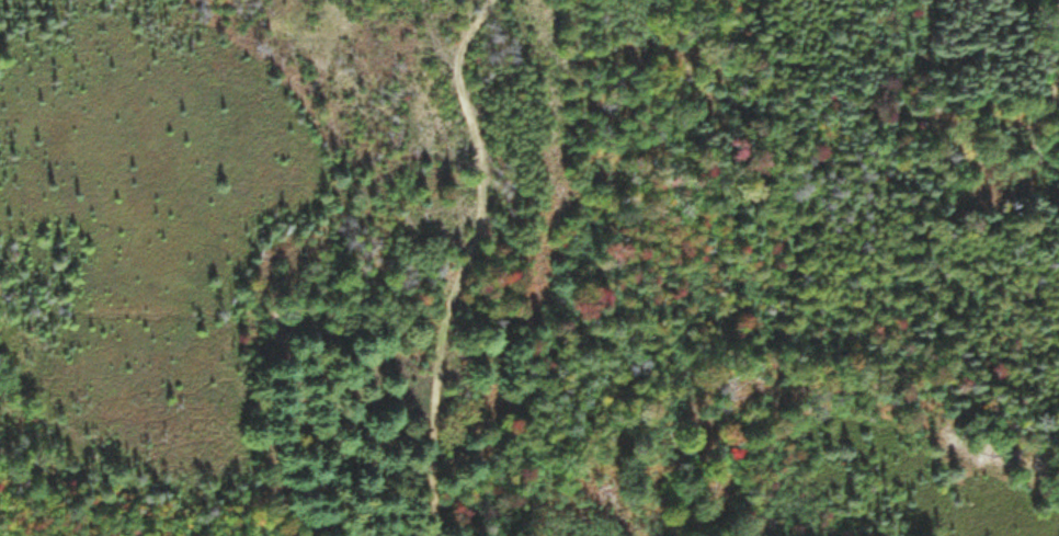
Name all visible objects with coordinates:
road: (1041, 129)
road: (459, 261)

